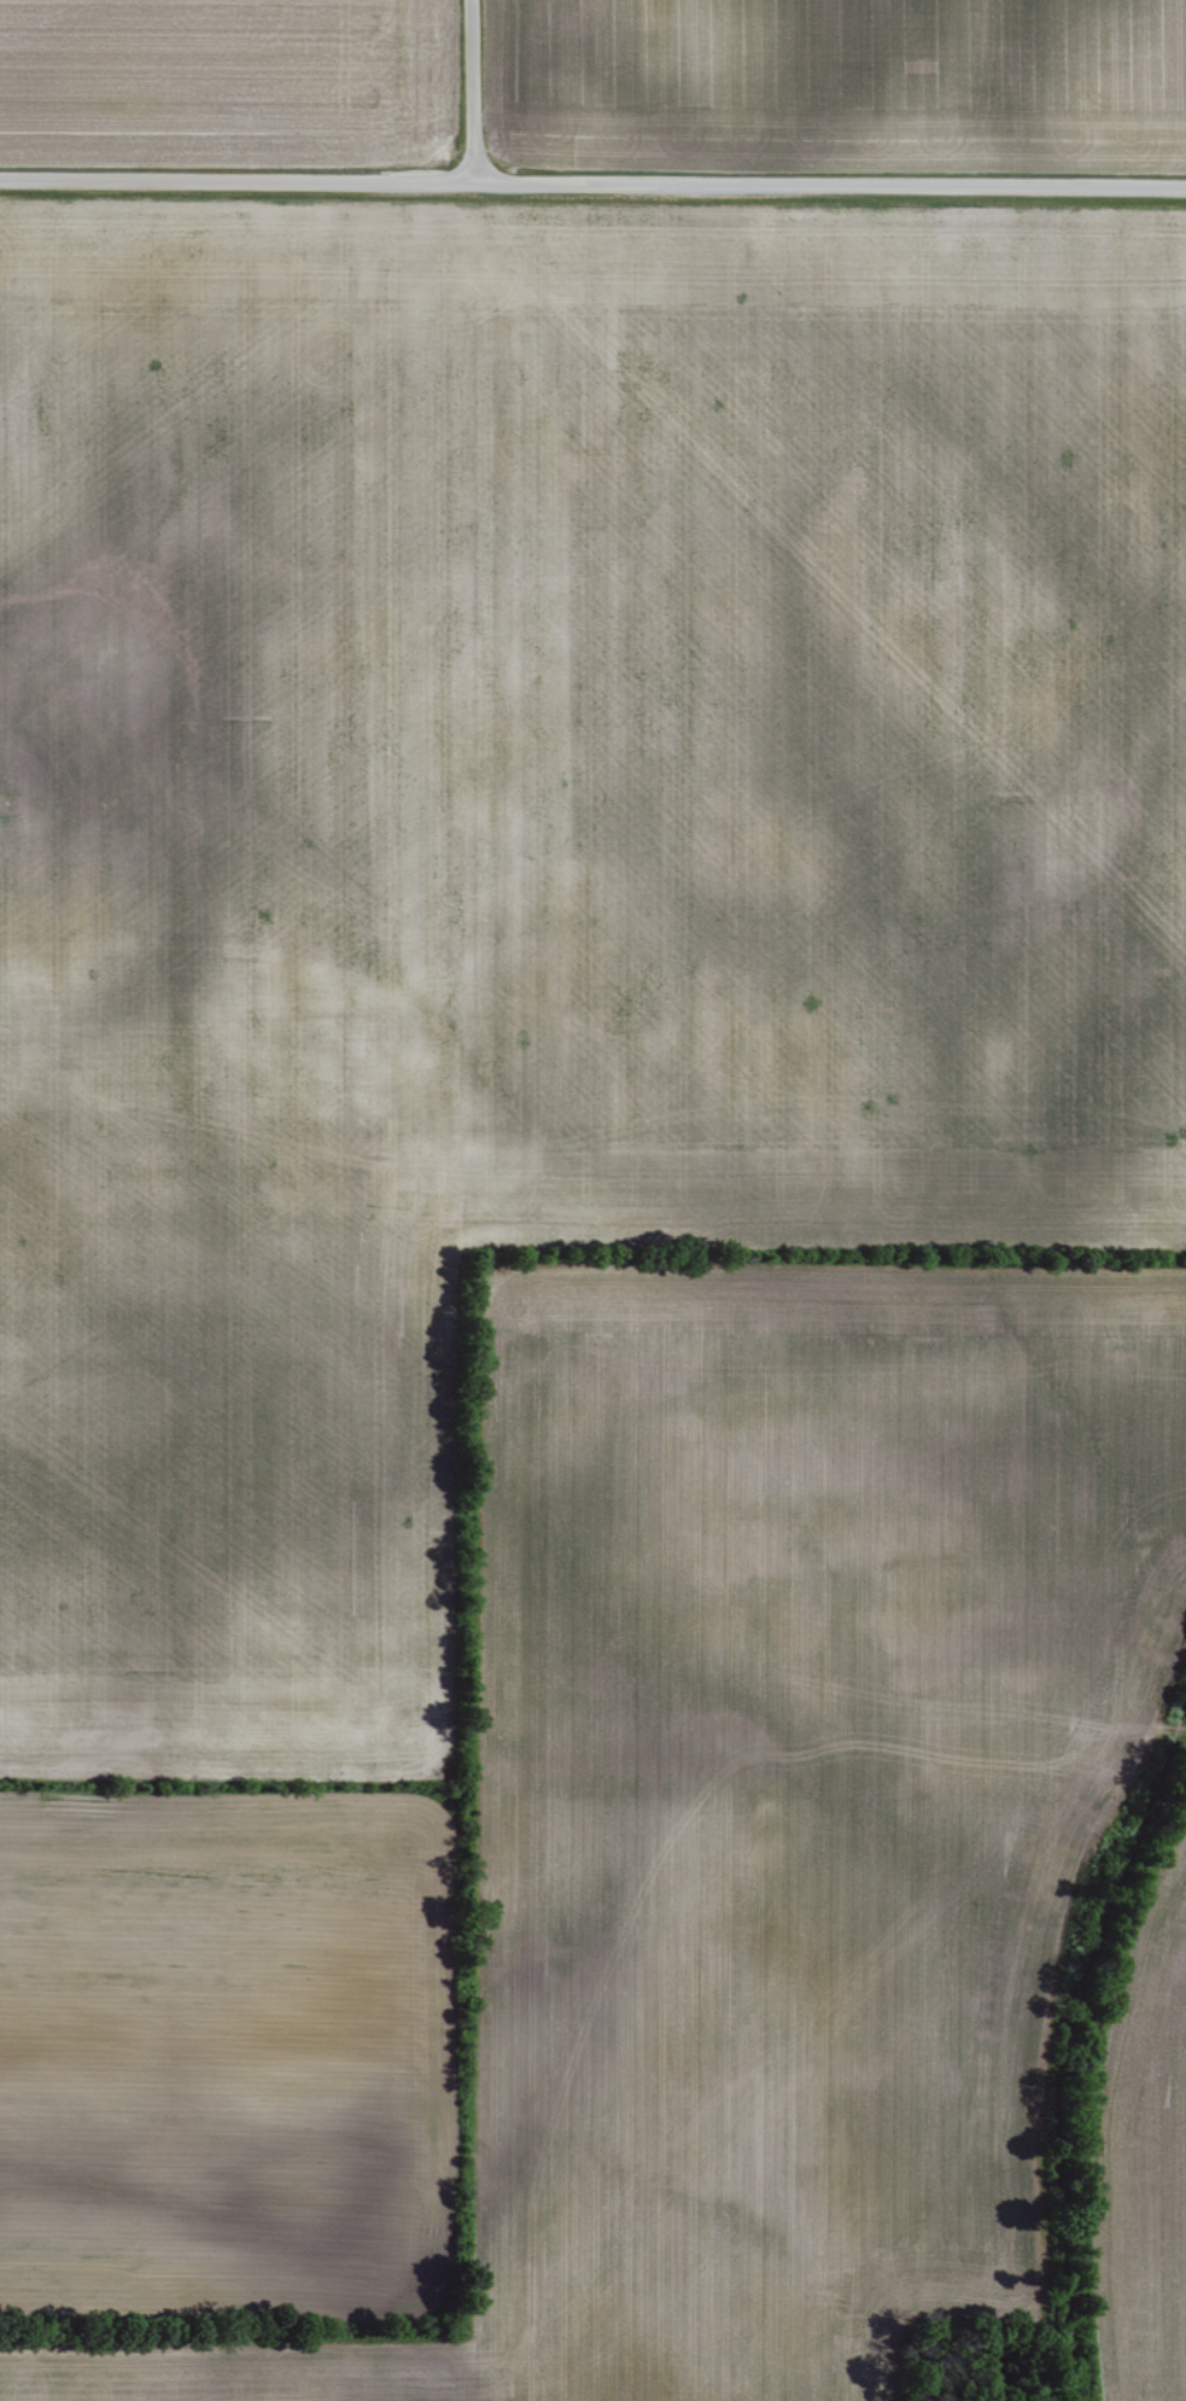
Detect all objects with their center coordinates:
road: (467, 92)
road: (592, 186)

